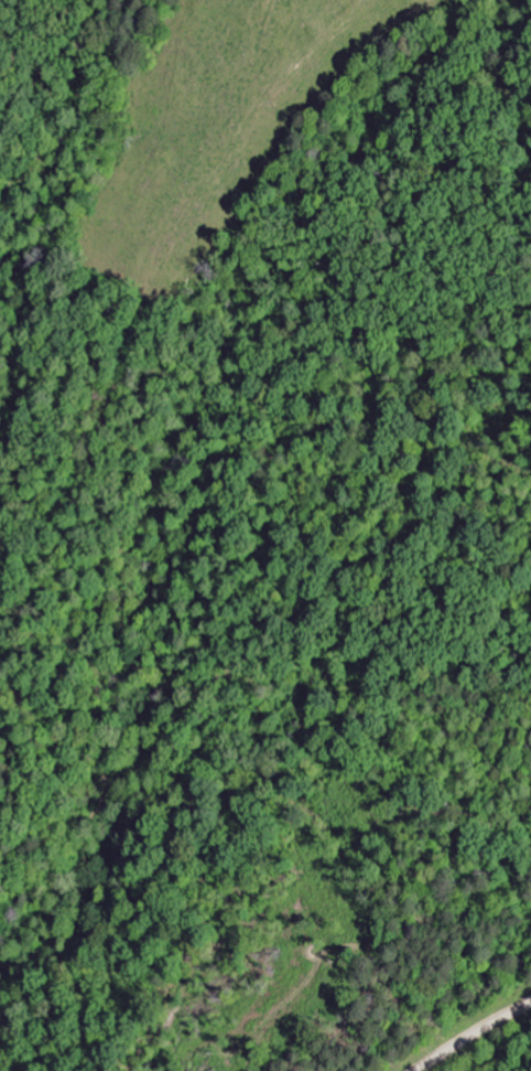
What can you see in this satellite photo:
road: (470, 1033)

